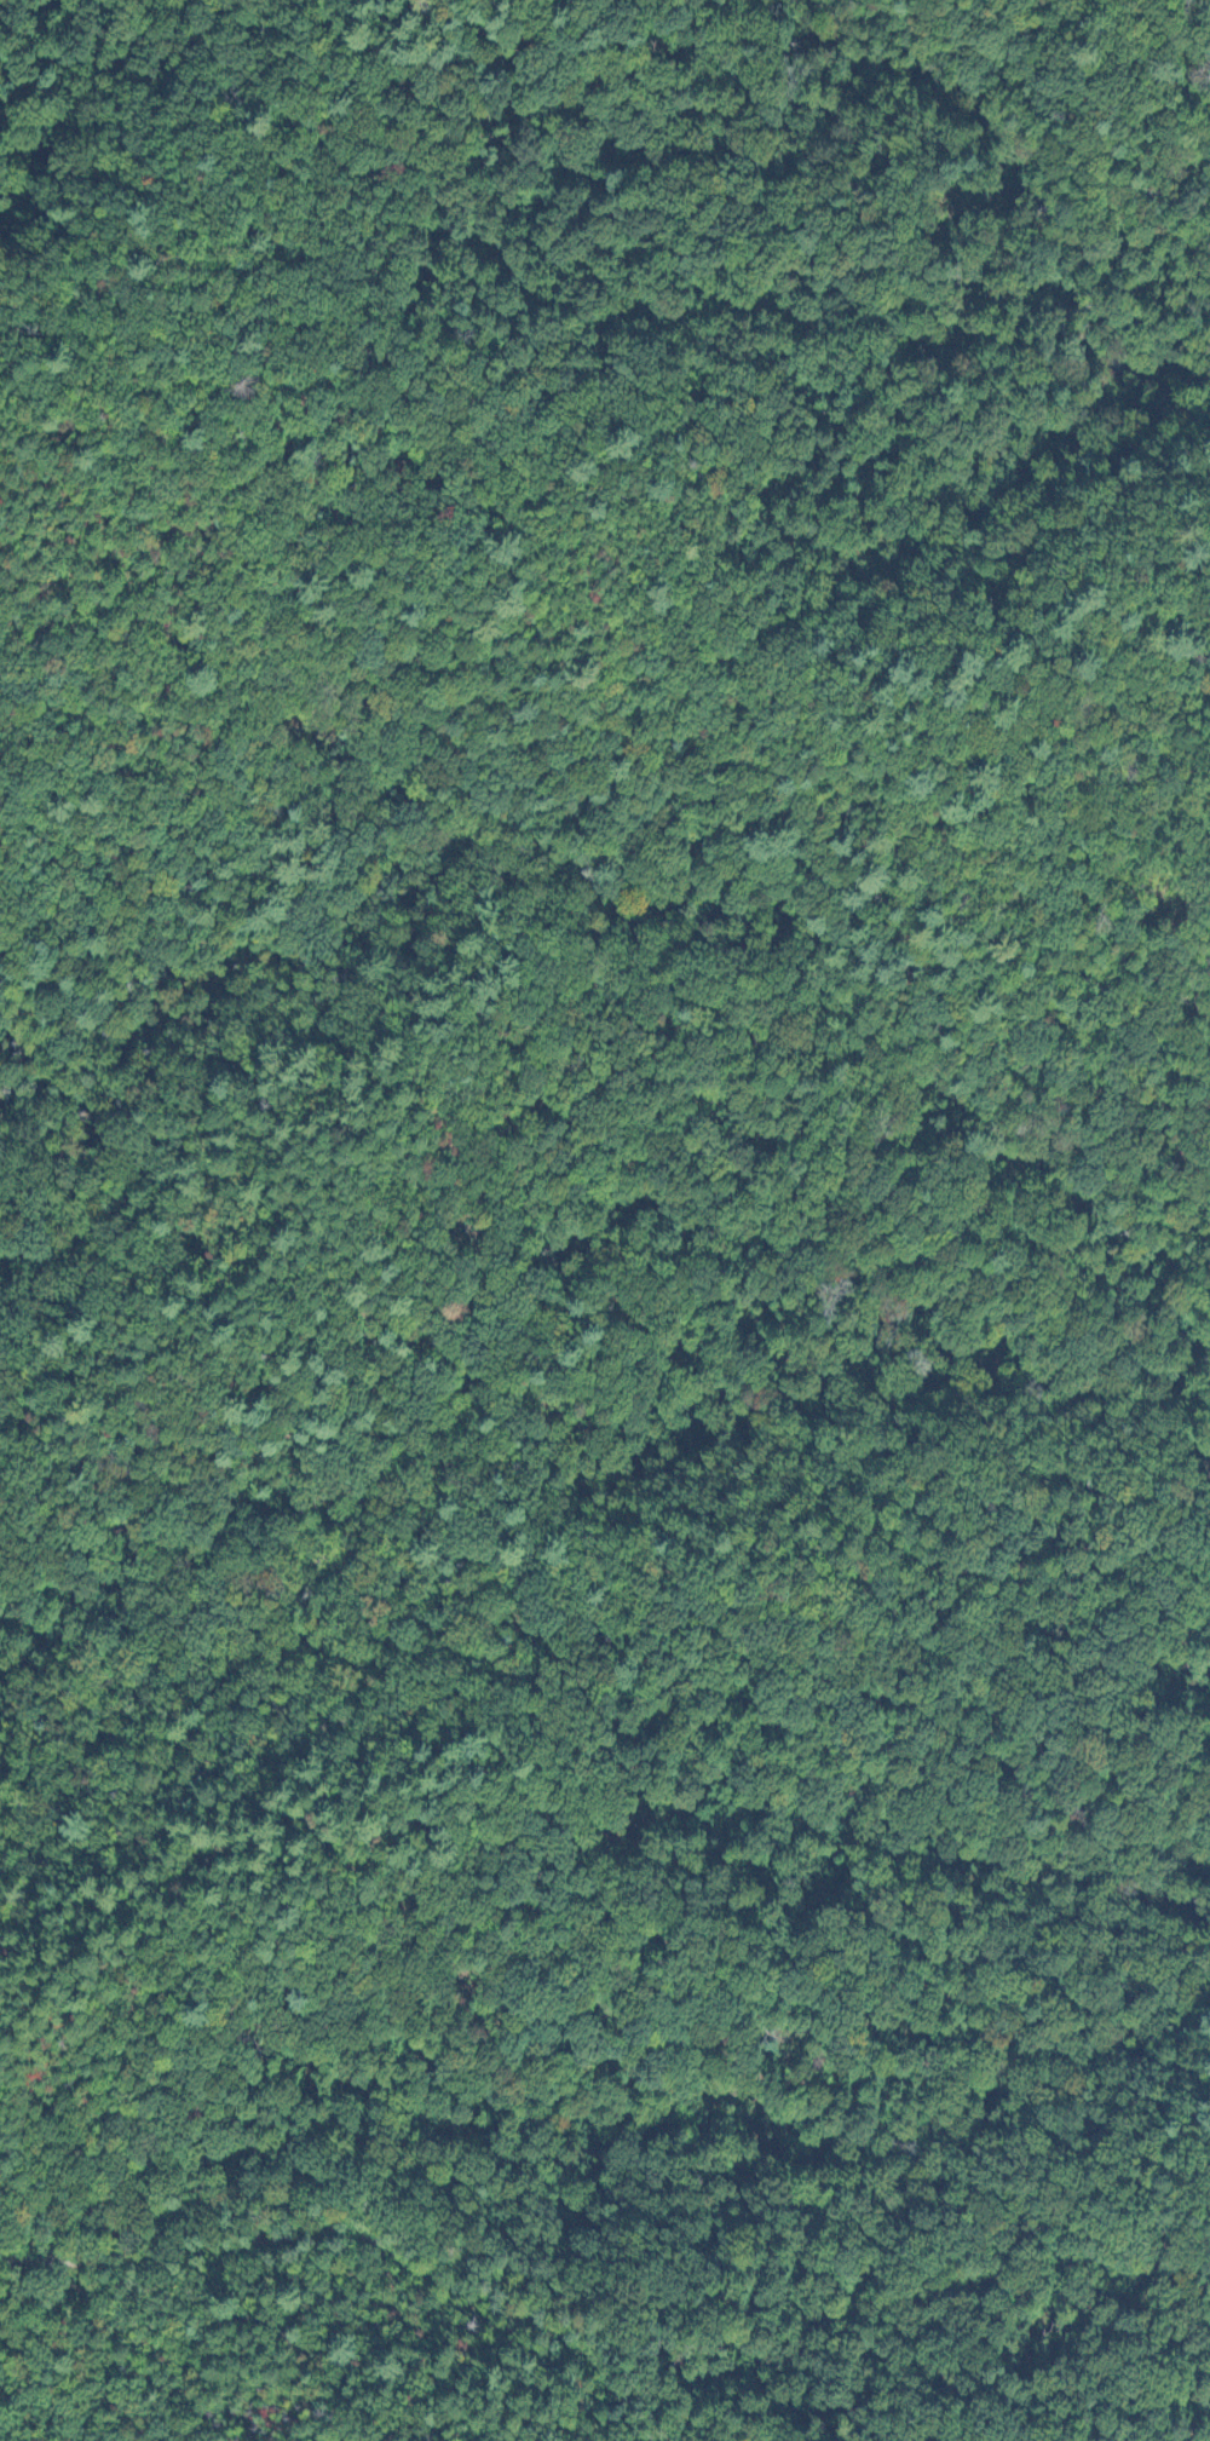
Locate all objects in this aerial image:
road: (391, 2251)
road: (24, 2259)
road: (132, 2360)

